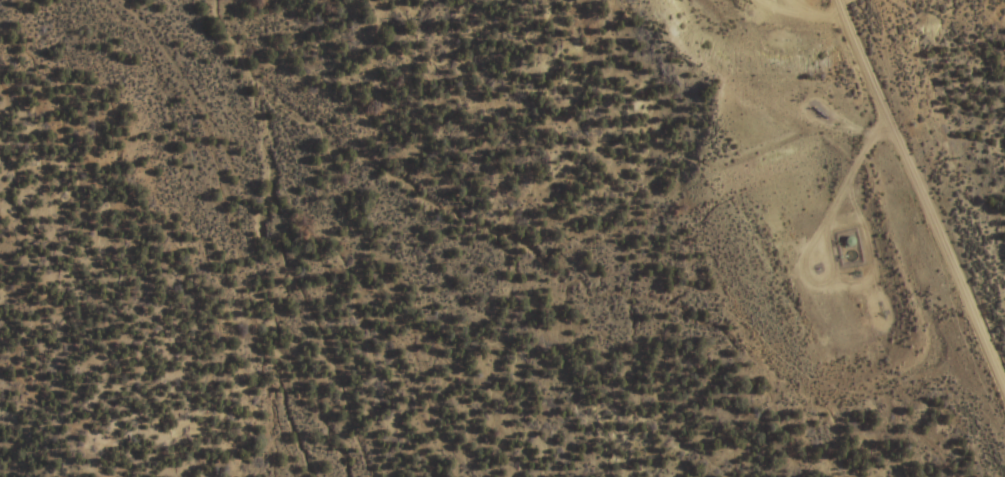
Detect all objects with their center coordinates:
road: (917, 203)

